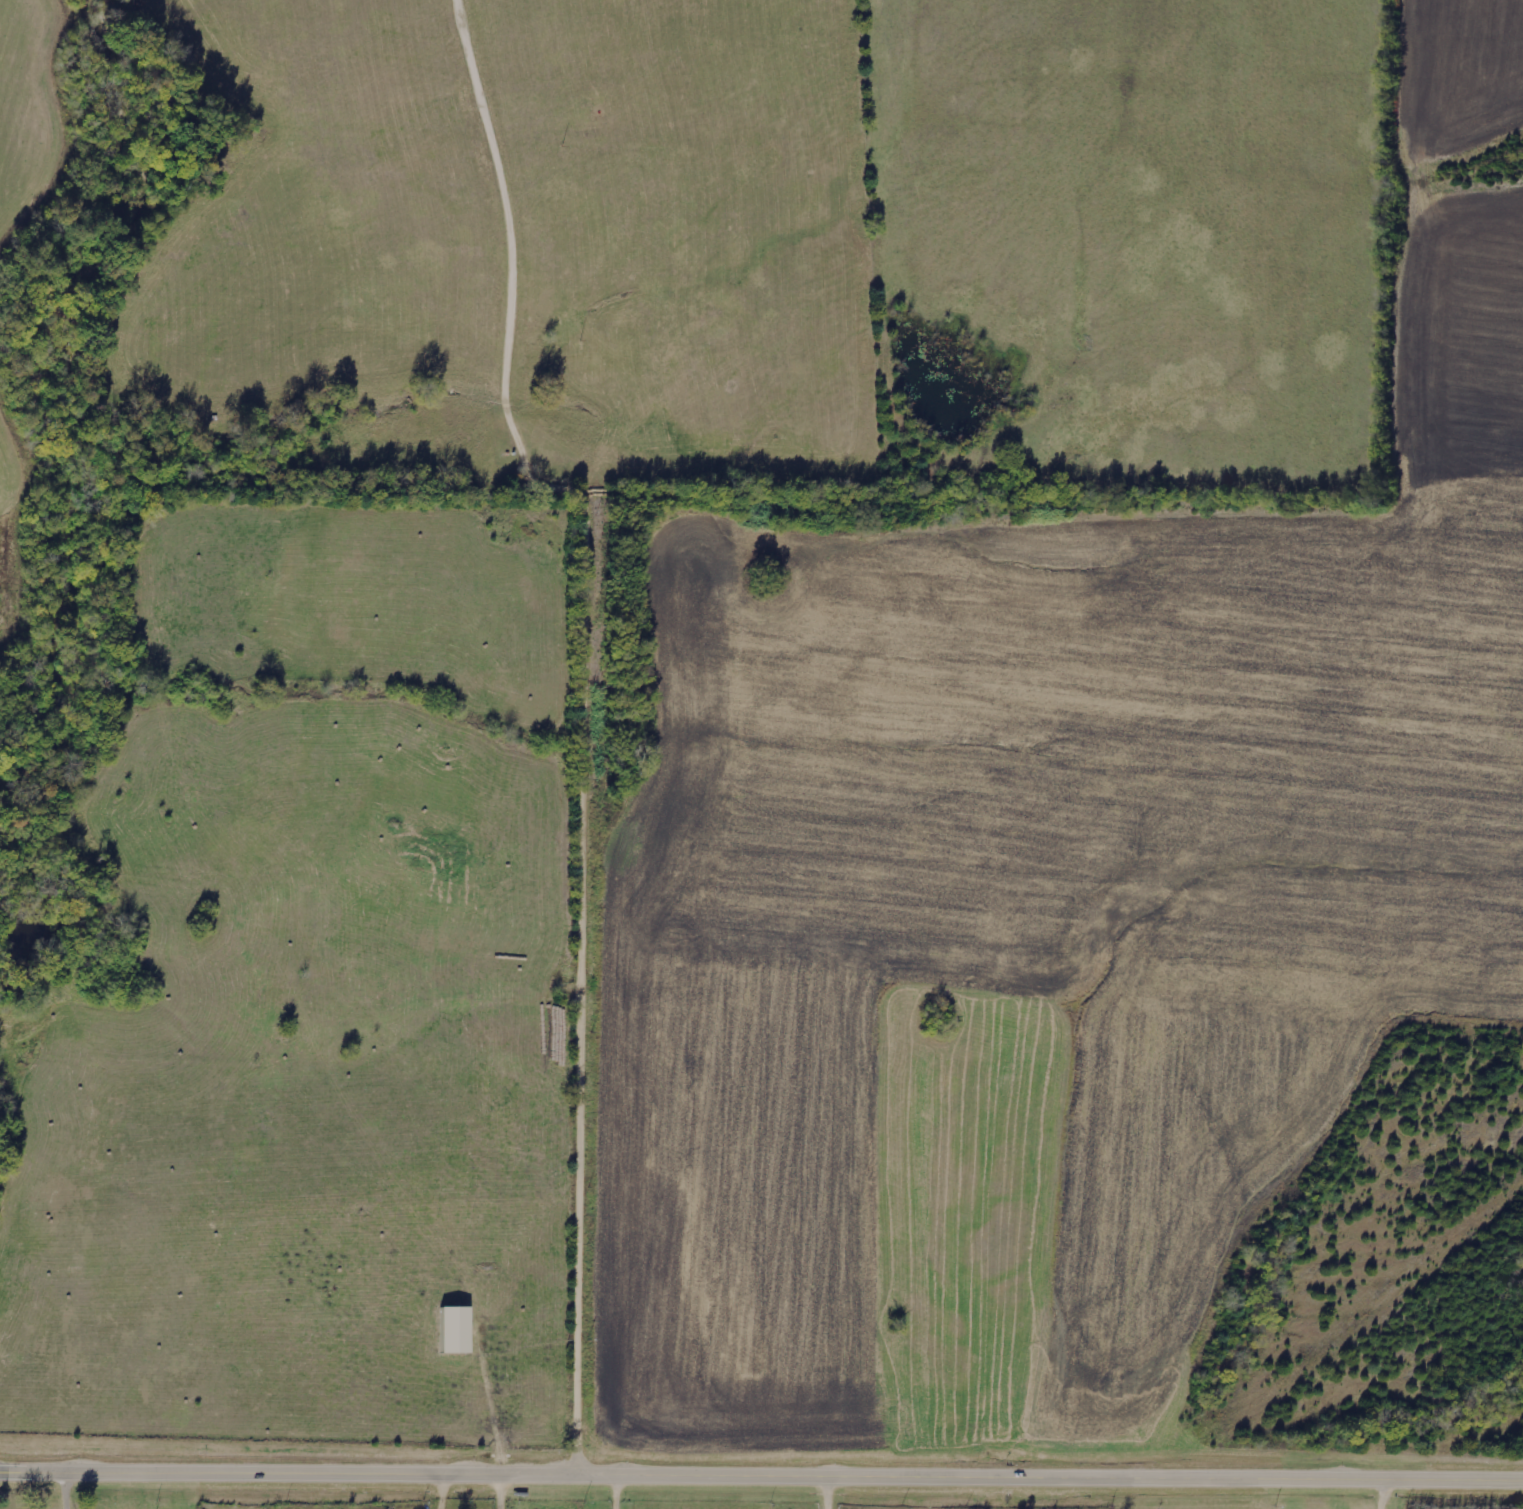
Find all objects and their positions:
road: (590, 958)
building: (454, 1329)
road: (761, 1474)

